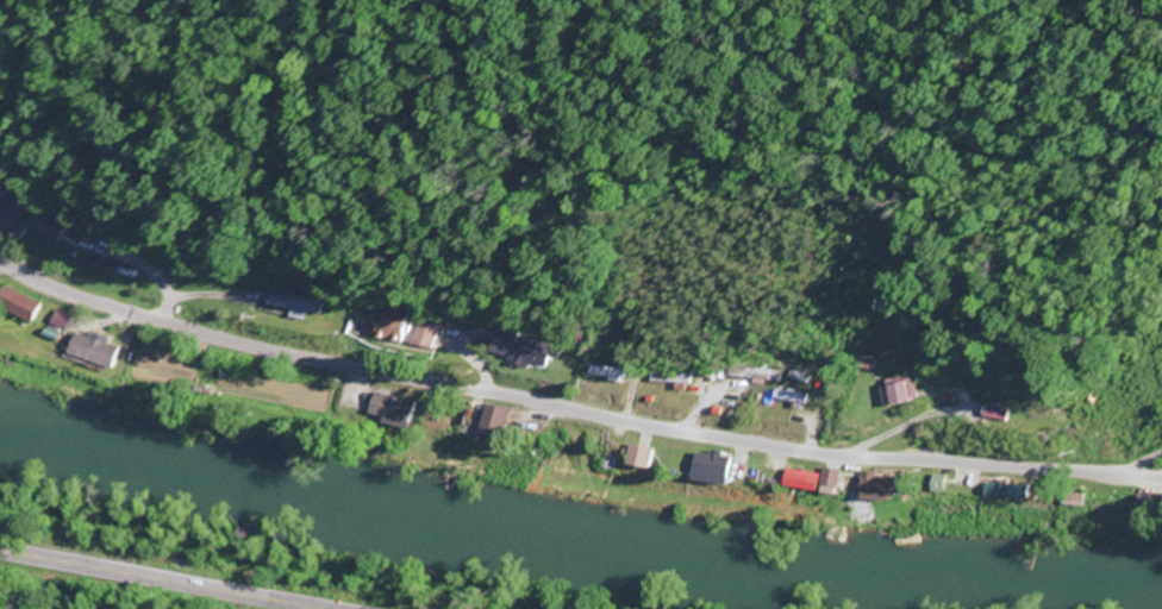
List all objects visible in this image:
building: (39, 225)
building: (15, 304)
building: (55, 321)
building: (379, 326)
building: (417, 335)
building: (511, 349)
building: (89, 351)
building: (892, 394)
building: (387, 410)
road: (571, 410)
building: (993, 413)
building: (487, 419)
building: (633, 458)
building: (707, 469)
building: (825, 479)
building: (796, 481)
building: (870, 488)
building: (999, 491)
river: (577, 542)
road: (161, 579)

